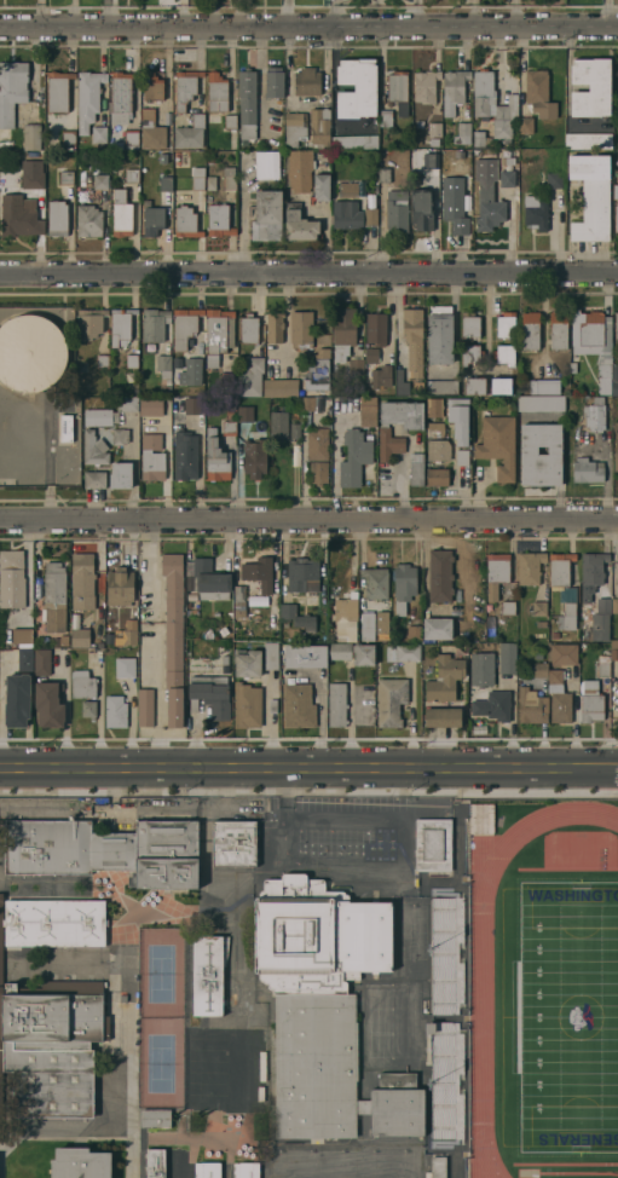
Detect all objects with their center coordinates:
building: (616, 1)
road: (473, 12)
road: (40, 13)
road: (74, 13)
road: (108, 13)
road: (183, 13)
road: (215, 13)
road: (514, 13)
road: (308, 27)
building: (273, 83)
building: (426, 86)
building: (151, 87)
building: (311, 87)
building: (590, 87)
building: (185, 88)
building: (357, 88)
building: (11, 91)
building: (398, 91)
building: (454, 91)
building: (57, 92)
building: (219, 93)
building: (483, 93)
building: (538, 94)
building: (120, 97)
building: (247, 97)
building: (87, 99)
building: (504, 117)
building: (385, 119)
building: (230, 121)
building: (525, 126)
building: (295, 128)
building: (319, 128)
building: (151, 131)
building: (434, 131)
building: (190, 133)
building: (99, 134)
building: (462, 134)
building: (31, 137)
building: (131, 138)
building: (480, 139)
building: (68, 140)
building: (354, 142)
building: (588, 142)
building: (162, 157)
building: (431, 160)
building: (266, 168)
building: (299, 171)
building: (132, 175)
building: (65, 177)
building: (229, 178)
building: (197, 179)
building: (508, 179)
building: (33, 180)
building: (554, 180)
building: (100, 183)
building: (166, 183)
building: (210, 183)
building: (320, 186)
building: (345, 190)
building: (616, 192)
building: (591, 197)
building: (370, 202)
building: (454, 206)
building: (487, 207)
building: (422, 210)
building: (397, 212)
building: (535, 213)
building: (121, 214)
building: (346, 215)
building: (19, 216)
building: (266, 216)
building: (57, 219)
building: (616, 220)
building: (88, 221)
building: (152, 221)
building: (219, 221)
building: (185, 223)
building: (299, 225)
road: (308, 277)
building: (88, 323)
building: (469, 325)
building: (506, 325)
building: (120, 327)
building: (156, 327)
building: (184, 327)
building: (273, 328)
building: (248, 329)
building: (300, 329)
building: (376, 329)
building: (616, 329)
building: (530, 330)
building: (558, 330)
building: (343, 333)
building: (218, 335)
building: (439, 336)
building: (412, 340)
building: (593, 342)
building: (30, 353)
storage tank: (30, 353)
building: (504, 354)
building: (470, 356)
building: (194, 362)
building: (131, 366)
building: (356, 366)
building: (163, 368)
building: (375, 370)
building: (317, 371)
building: (250, 377)
building: (614, 379)
building: (400, 383)
building: (474, 386)
building: (499, 386)
building: (441, 387)
building: (544, 387)
building: (279, 388)
building: (541, 403)
building: (126, 404)
building: (191, 404)
building: (150, 408)
building: (314, 408)
building: (433, 408)
building: (364, 410)
building: (244, 414)
building: (594, 415)
building: (99, 417)
building: (458, 420)
building: (65, 427)
building: (278, 427)
building: (229, 429)
building: (294, 431)
building: (434, 431)
building: (383, 433)
building: (120, 437)
building: (317, 445)
building: (497, 445)
building: (94, 449)
building: (438, 450)
building: (541, 455)
building: (185, 456)
building: (254, 456)
building: (616, 456)
building: (462, 457)
building: (151, 458)
building: (216, 458)
building: (354, 458)
building: (416, 469)
building: (587, 470)
building: (318, 473)
building: (120, 475)
building: (437, 478)
building: (94, 480)
road: (308, 520)
road: (457, 545)
building: (11, 565)
building: (529, 568)
building: (496, 573)
building: (591, 573)
building: (302, 576)
building: (439, 576)
building: (207, 581)
building: (250, 581)
building: (82, 582)
building: (375, 583)
building: (120, 587)
building: (403, 588)
building: (567, 596)
building: (53, 599)
building: (507, 608)
building: (539, 610)
building: (346, 617)
building: (296, 618)
building: (601, 620)
building: (381, 623)
building: (366, 626)
building: (437, 628)
building: (255, 631)
building: (414, 634)
building: (21, 635)
building: (128, 637)
building: (173, 637)
building: (80, 639)
road: (157, 643)
building: (613, 649)
building: (339, 651)
building: (403, 653)
building: (363, 654)
building: (564, 654)
building: (270, 657)
building: (305, 657)
building: (507, 658)
building: (24, 659)
building: (41, 662)
building: (247, 664)
building: (125, 666)
building: (480, 669)
building: (539, 670)
building: (444, 680)
building: (82, 685)
parking lot: (616, 689)
building: (209, 695)
building: (558, 698)
building: (16, 700)
building: (389, 701)
building: (336, 704)
building: (47, 705)
building: (146, 705)
building: (246, 705)
building: (298, 705)
building: (613, 705)
building: (492, 706)
building: (529, 708)
building: (591, 709)
building: (88, 710)
building: (115, 711)
building: (443, 717)
road: (306, 767)
road: (616, 767)
building: (481, 819)
parking lot: (348, 843)
building: (232, 845)
building: (432, 845)
building: (64, 848)
building: (166, 854)
road: (374, 864)
building: (53, 920)
building: (316, 934)
building: (446, 951)
park: (161, 971)
building: (207, 972)
building: (230, 993)
road: (131, 1016)
track: (483, 1016)
park: (570, 1016)
building: (0, 1029)
building: (52, 1046)
park: (161, 1061)
building: (314, 1063)
building: (446, 1085)
building: (397, 1103)
building: (154, 1115)
building: (155, 1161)
building: (79, 1162)
building: (437, 1166)
building: (206, 1168)
building: (244, 1168)

